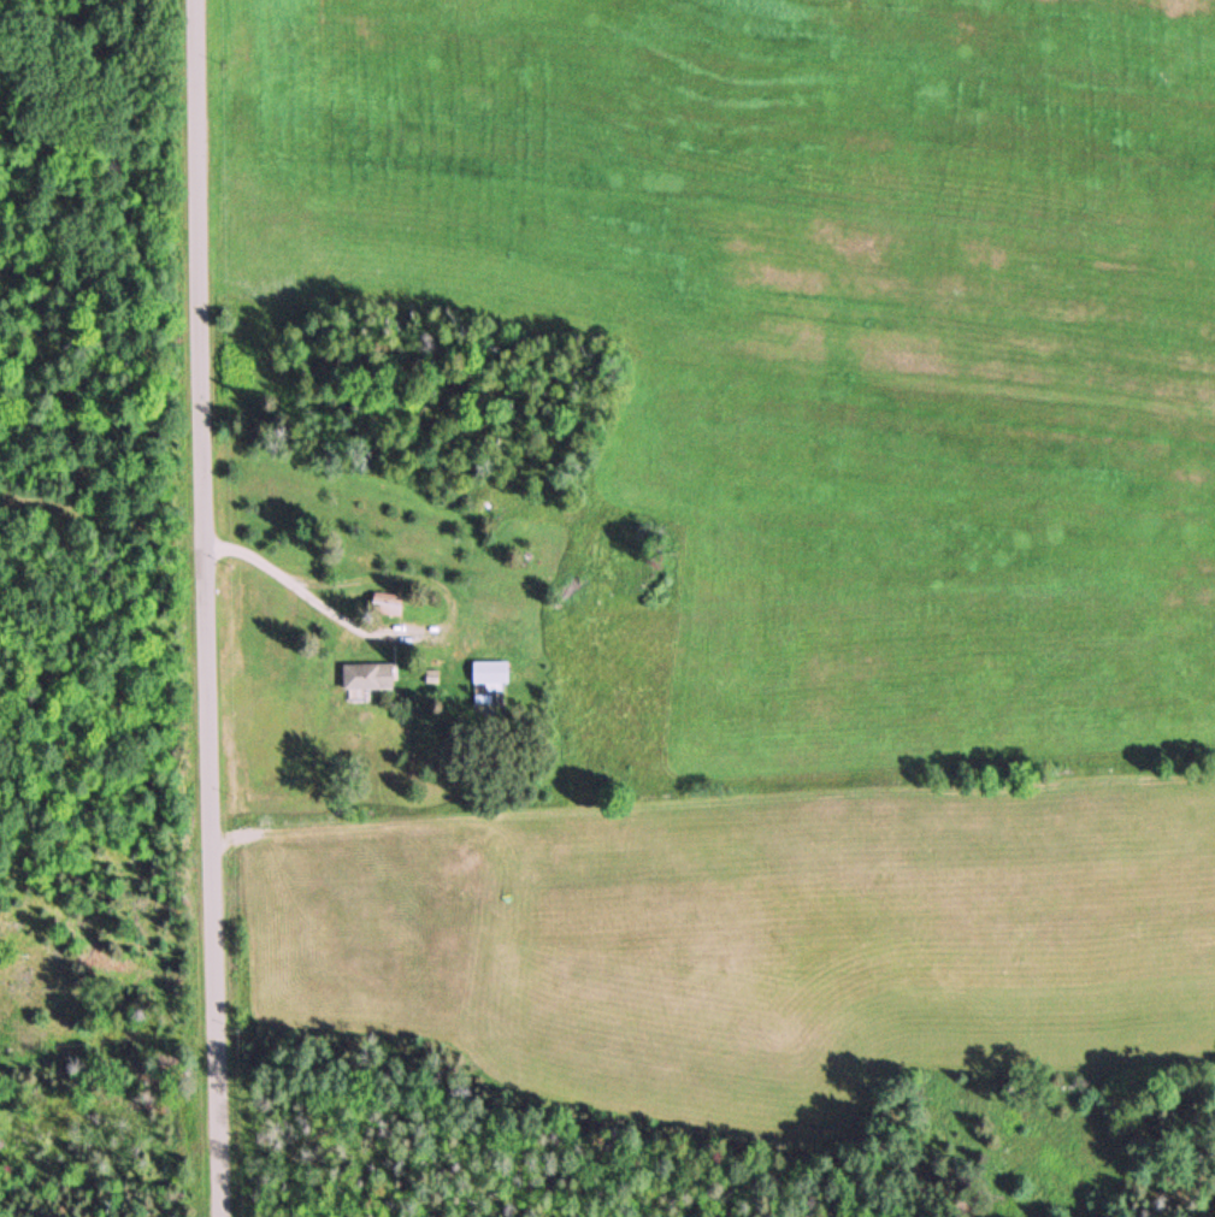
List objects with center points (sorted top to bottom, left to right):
road: (319, 602)
building: (389, 604)
road: (205, 608)
building: (493, 672)
building: (370, 679)
road: (712, 810)

